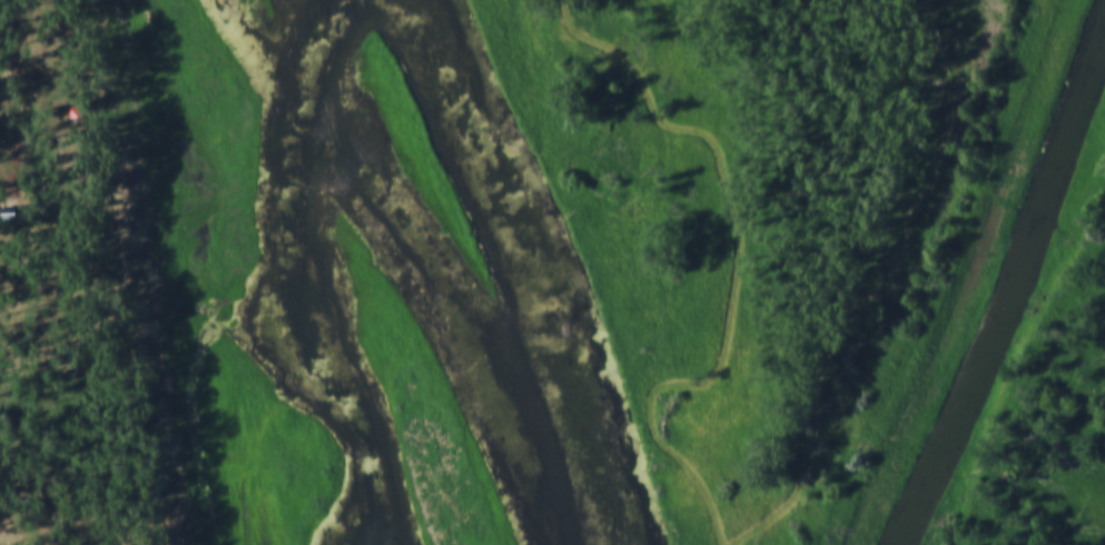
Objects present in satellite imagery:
road: (740, 257)
park: (533, 260)
river: (533, 266)
river: (293, 276)
road: (879, 289)
river: (1012, 295)
river: (462, 337)

